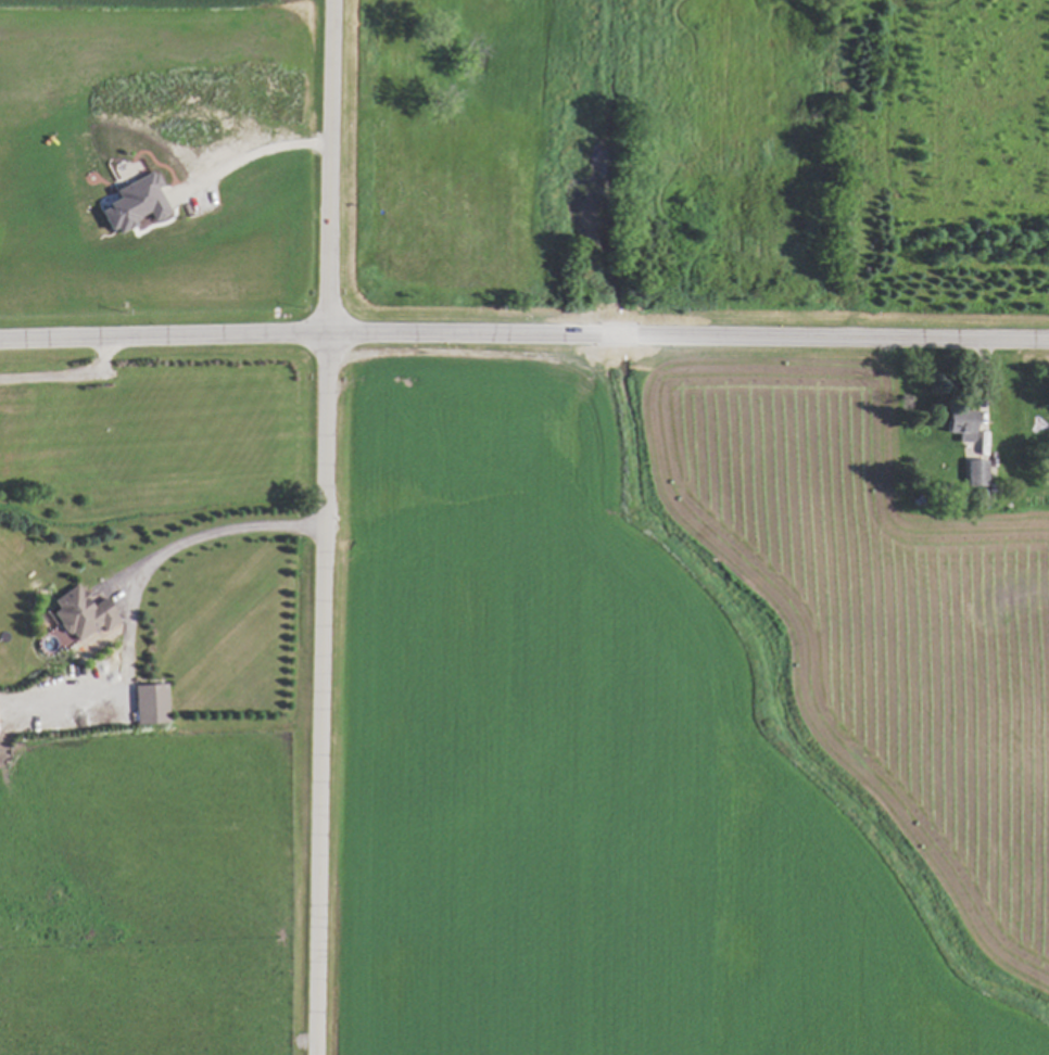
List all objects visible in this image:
road: (253, 155)
building: (131, 202)
road: (523, 338)
road: (66, 376)
building: (959, 422)
building: (973, 472)
road: (323, 526)
road: (134, 589)
building: (79, 613)
building: (147, 703)
crop: (680, 725)

